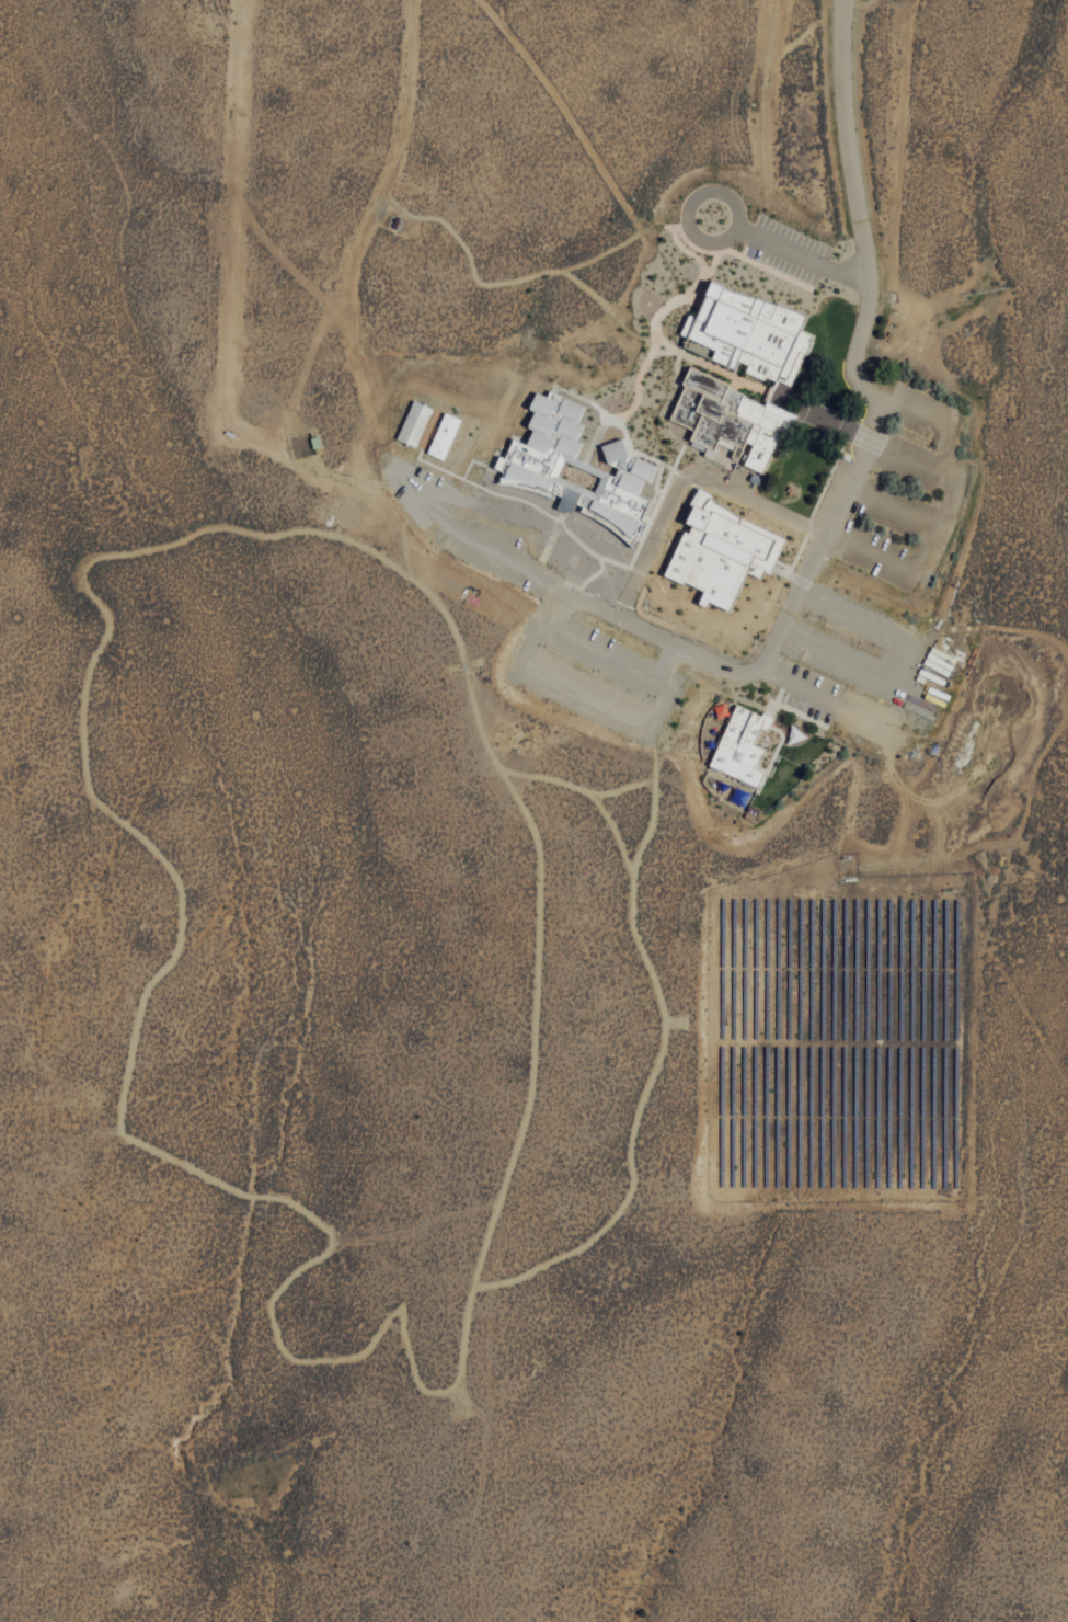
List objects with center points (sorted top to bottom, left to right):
road: (692, 208)
parking lot: (788, 253)
road: (804, 259)
building: (750, 341)
building: (778, 392)
building: (731, 427)
building: (417, 431)
building: (447, 444)
building: (581, 460)
parking lot: (907, 499)
building: (716, 529)
road: (823, 540)
building: (697, 569)
building: (678, 612)
parking lot: (593, 673)
building: (744, 751)
solar farm: (837, 1033)
road: (133, 1070)

